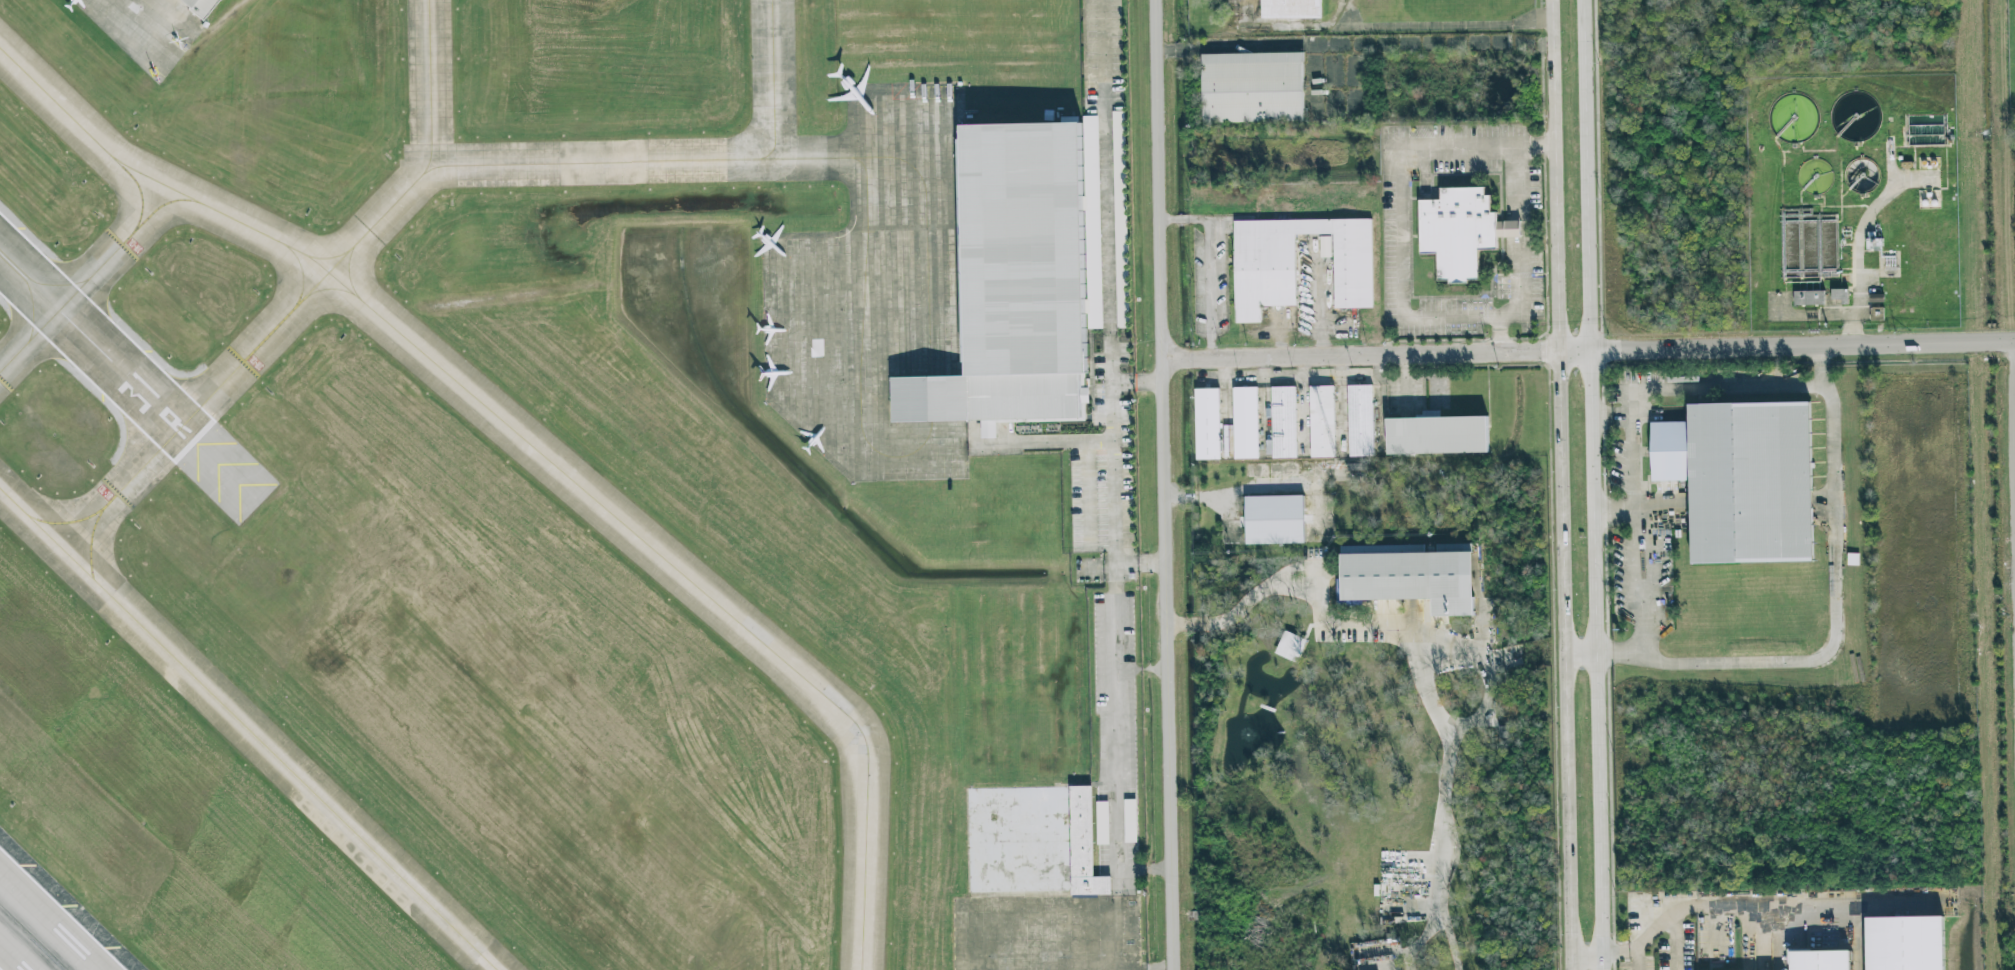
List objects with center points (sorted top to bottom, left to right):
building: (197, 7)
building: (1291, 8)
airport apron: (149, 31)
road: (1354, 37)
airport taxiway: (773, 82)
airport taxiway: (430, 86)
building: (1254, 89)
airport taxiway: (637, 161)
road: (1895, 168)
airport taxiway: (140, 191)
building: (1120, 220)
road: (1399, 225)
building: (1461, 231)
road: (1865, 241)
road: (1526, 245)
building: (1325, 247)
road: (1218, 259)
airport taxiway: (94, 272)
building: (1267, 273)
road: (1107, 281)
building: (1017, 285)
building: (1839, 295)
building: (1809, 298)
parking lot: (1107, 300)
road: (1326, 302)
airport apron: (880, 303)
building: (1877, 307)
airport runway: (98, 347)
road: (1588, 353)
airport taxiway: (237, 367)
road: (1148, 382)
road: (1122, 383)
building: (1362, 422)
building: (1247, 424)
building: (1288, 424)
building: (1324, 424)
building: (1208, 425)
road: (1637, 430)
building: (1438, 438)
road: (1041, 442)
airport taxiway: (534, 447)
building: (1742, 480)
road: (1564, 484)
road: (1162, 485)
road: (1599, 485)
airport: (592, 486)
road: (1619, 506)
airport taxiway: (68, 521)
building: (1276, 522)
road: (1097, 563)
road: (1138, 563)
building: (1418, 584)
road: (1837, 615)
building: (1290, 647)
road: (1585, 652)
road: (1418, 675)
road: (1114, 725)
airport taxiway: (248, 728)
parking lot: (1119, 730)
building: (1506, 732)
building: (1130, 821)
building: (1102, 823)
building: (1031, 847)
road: (1131, 868)
road: (1157, 868)
road: (1702, 907)
airport apron: (1047, 934)
airport runway: (31, 939)
road: (1764, 939)
road: (1676, 942)
building: (1905, 943)
road: (1591, 954)
road: (1637, 958)
building: (1820, 960)

